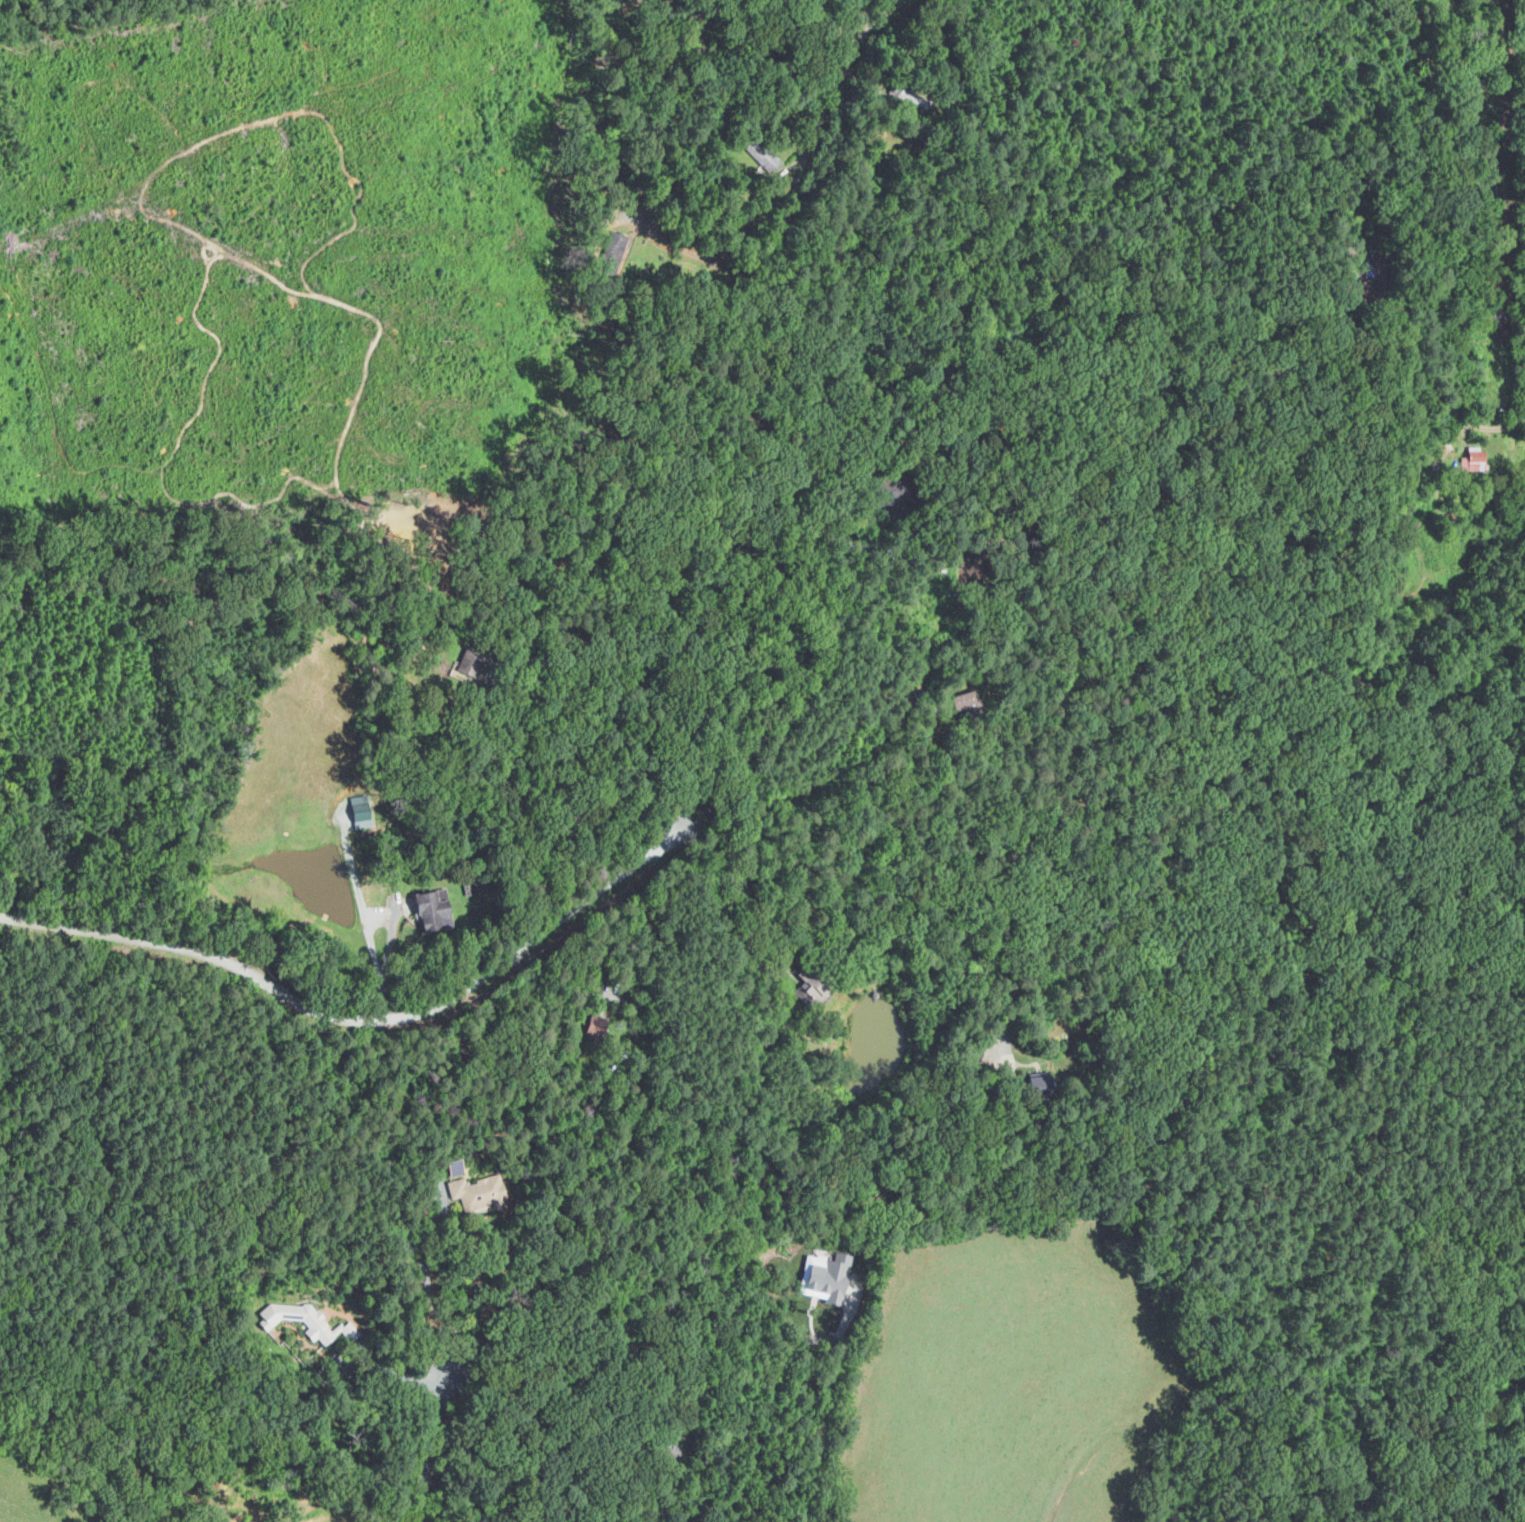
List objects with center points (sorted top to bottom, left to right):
road: (866, 30)
road: (1475, 63)
road: (1428, 68)
building: (1470, 93)
building: (764, 156)
road: (1428, 330)
building: (1476, 460)
road: (810, 678)
road: (510, 748)
road: (820, 788)
building: (360, 808)
road: (892, 892)
road: (751, 900)
building: (436, 913)
road: (366, 921)
road: (356, 1019)
building: (478, 1190)
building: (825, 1272)
road: (437, 1304)
road: (394, 1373)
road: (766, 1432)
road: (818, 1436)
road: (425, 1447)

